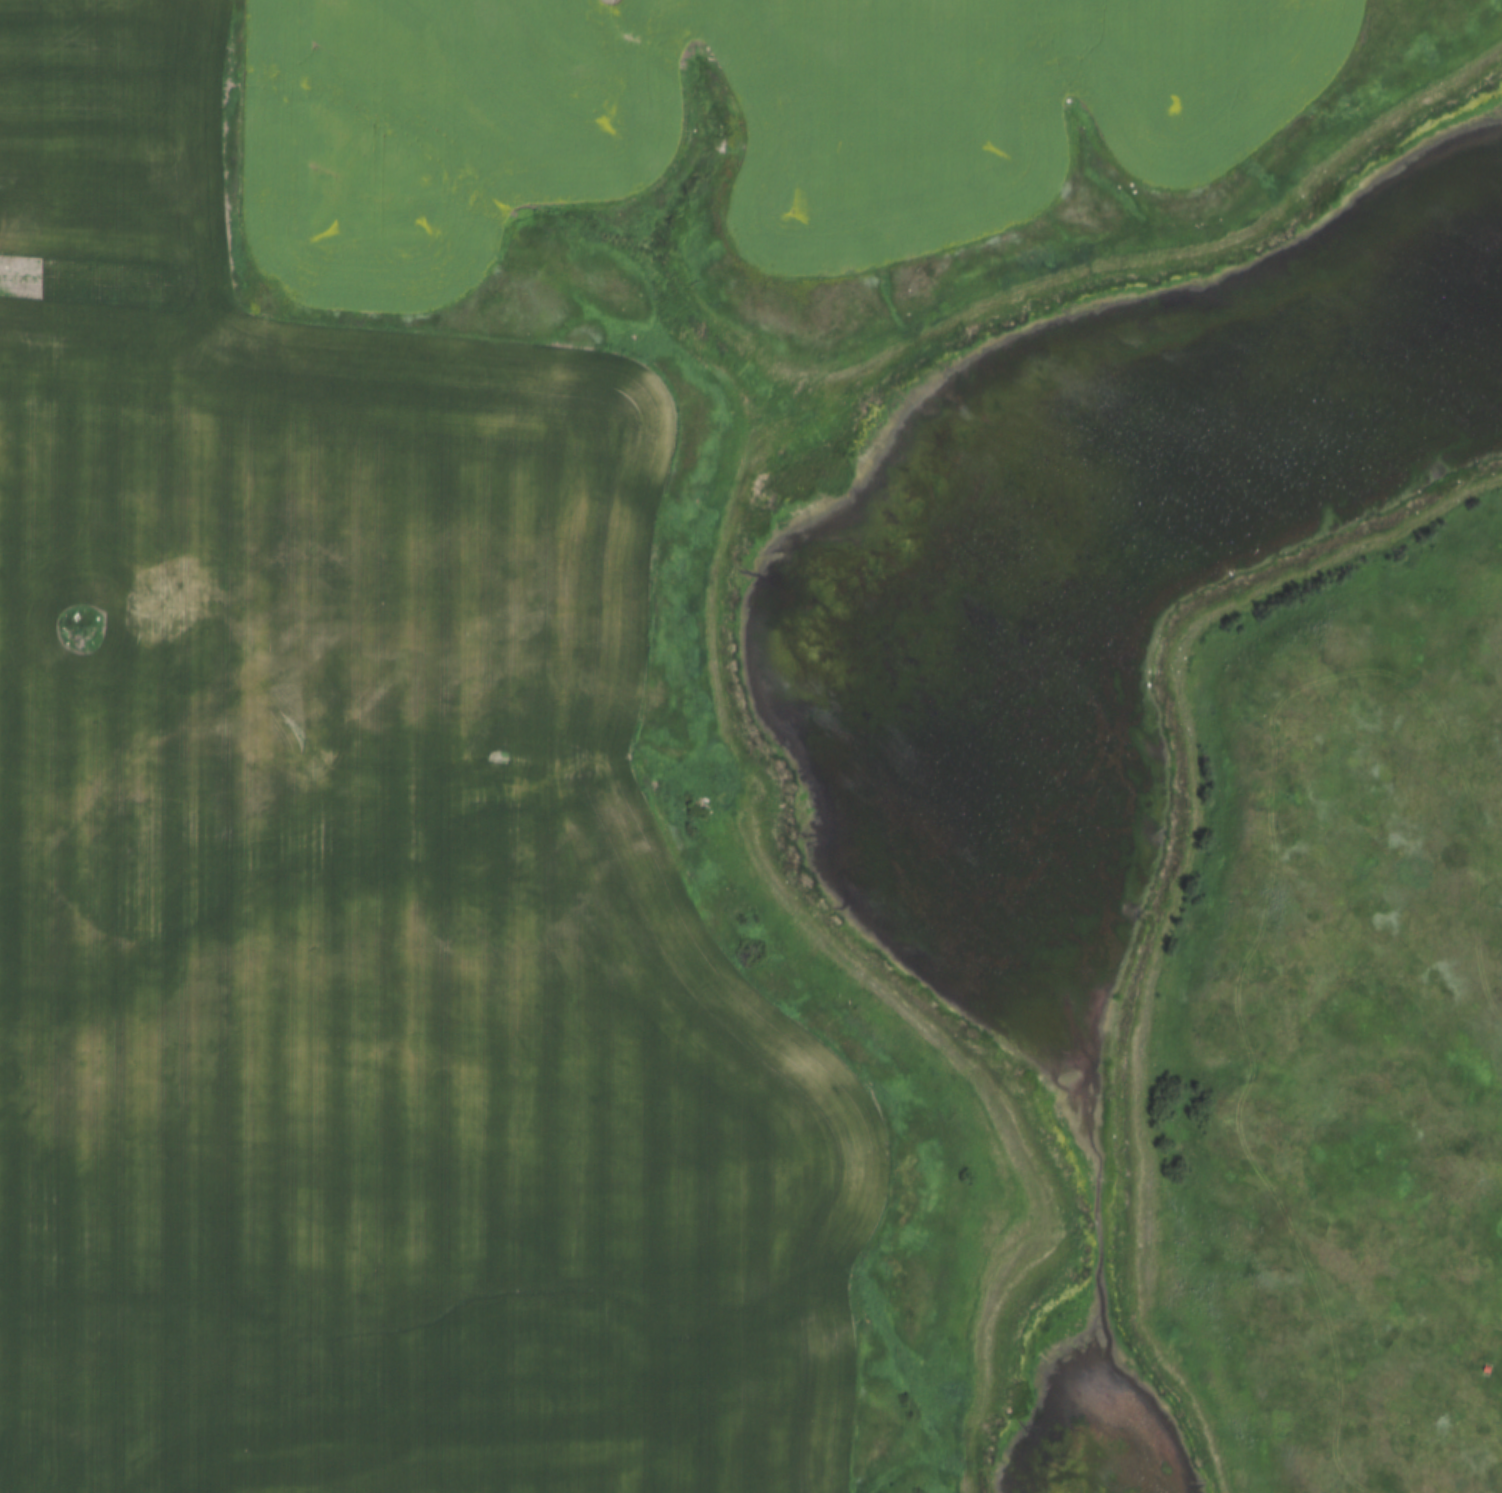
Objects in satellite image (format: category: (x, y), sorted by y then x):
road: (256, 284)

